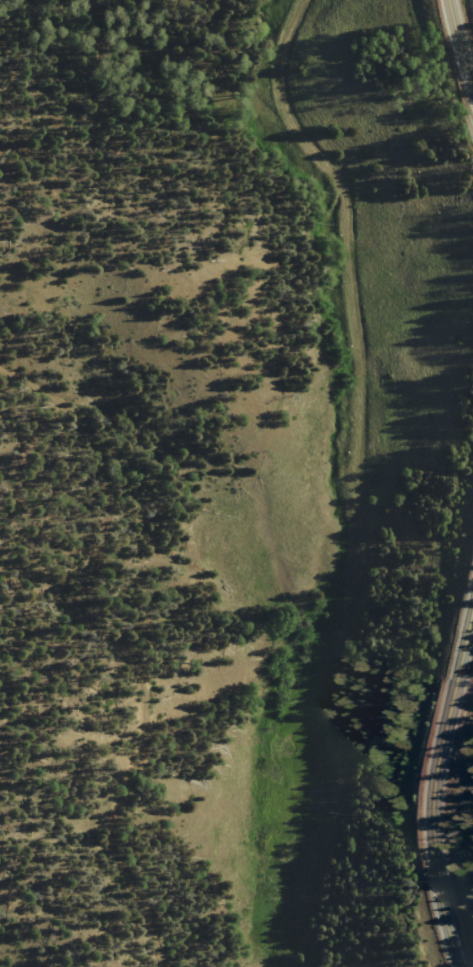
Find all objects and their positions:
road: (457, 45)
road: (12, 402)
road: (382, 480)
road: (434, 781)

